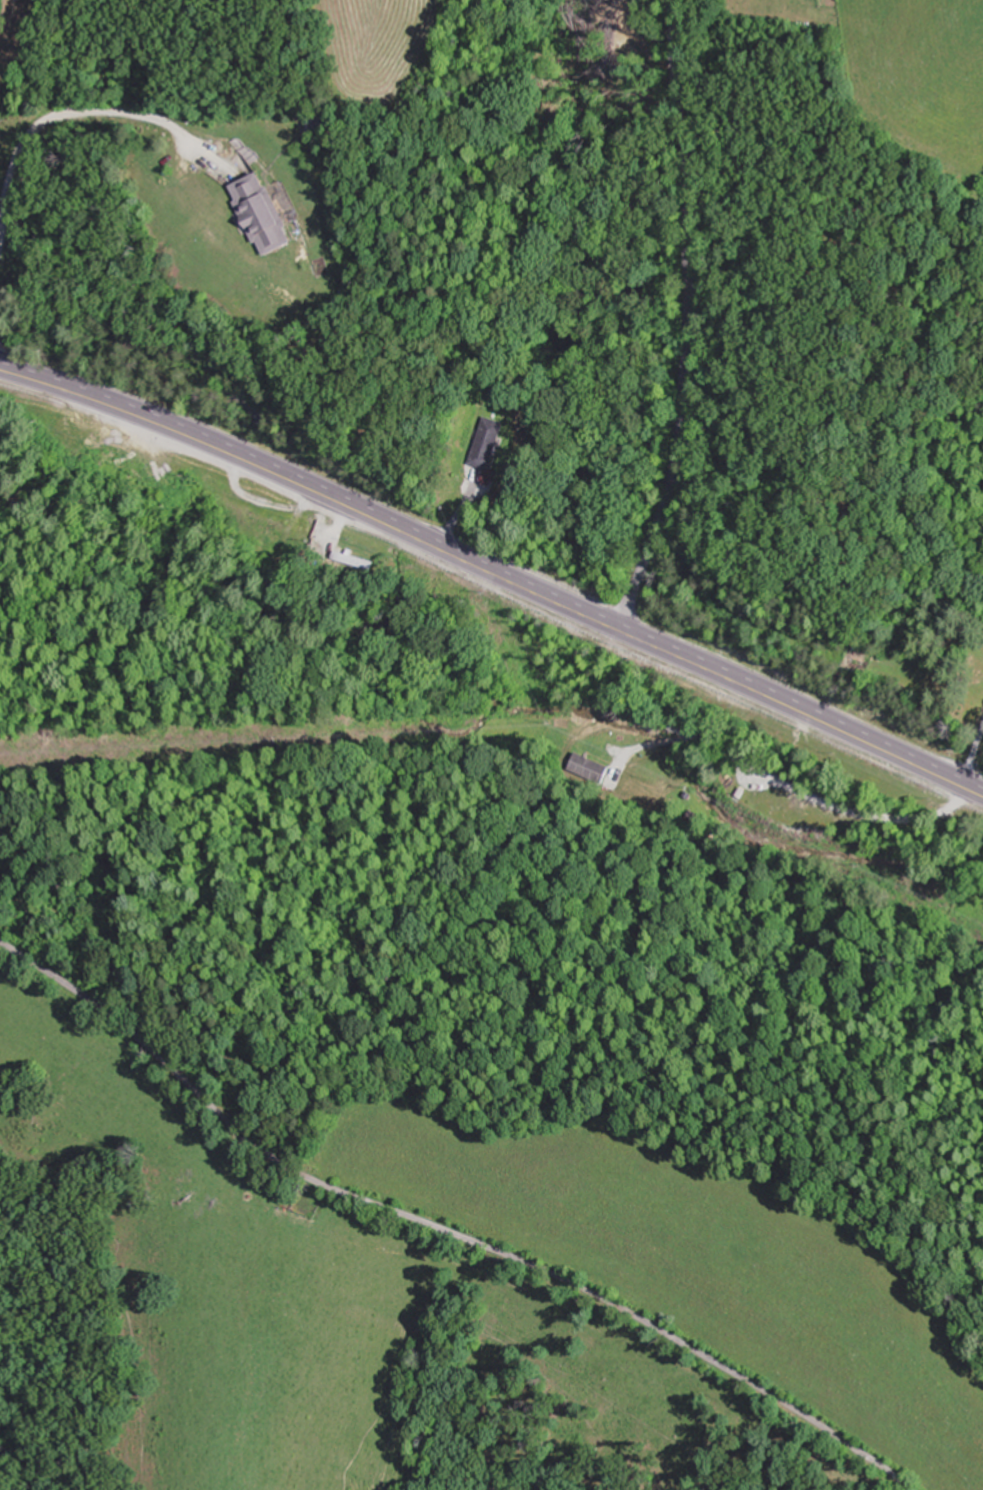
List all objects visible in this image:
building: (263, 213)
road: (685, 319)
building: (487, 443)
building: (262, 516)
road: (495, 575)
road: (442, 1228)

